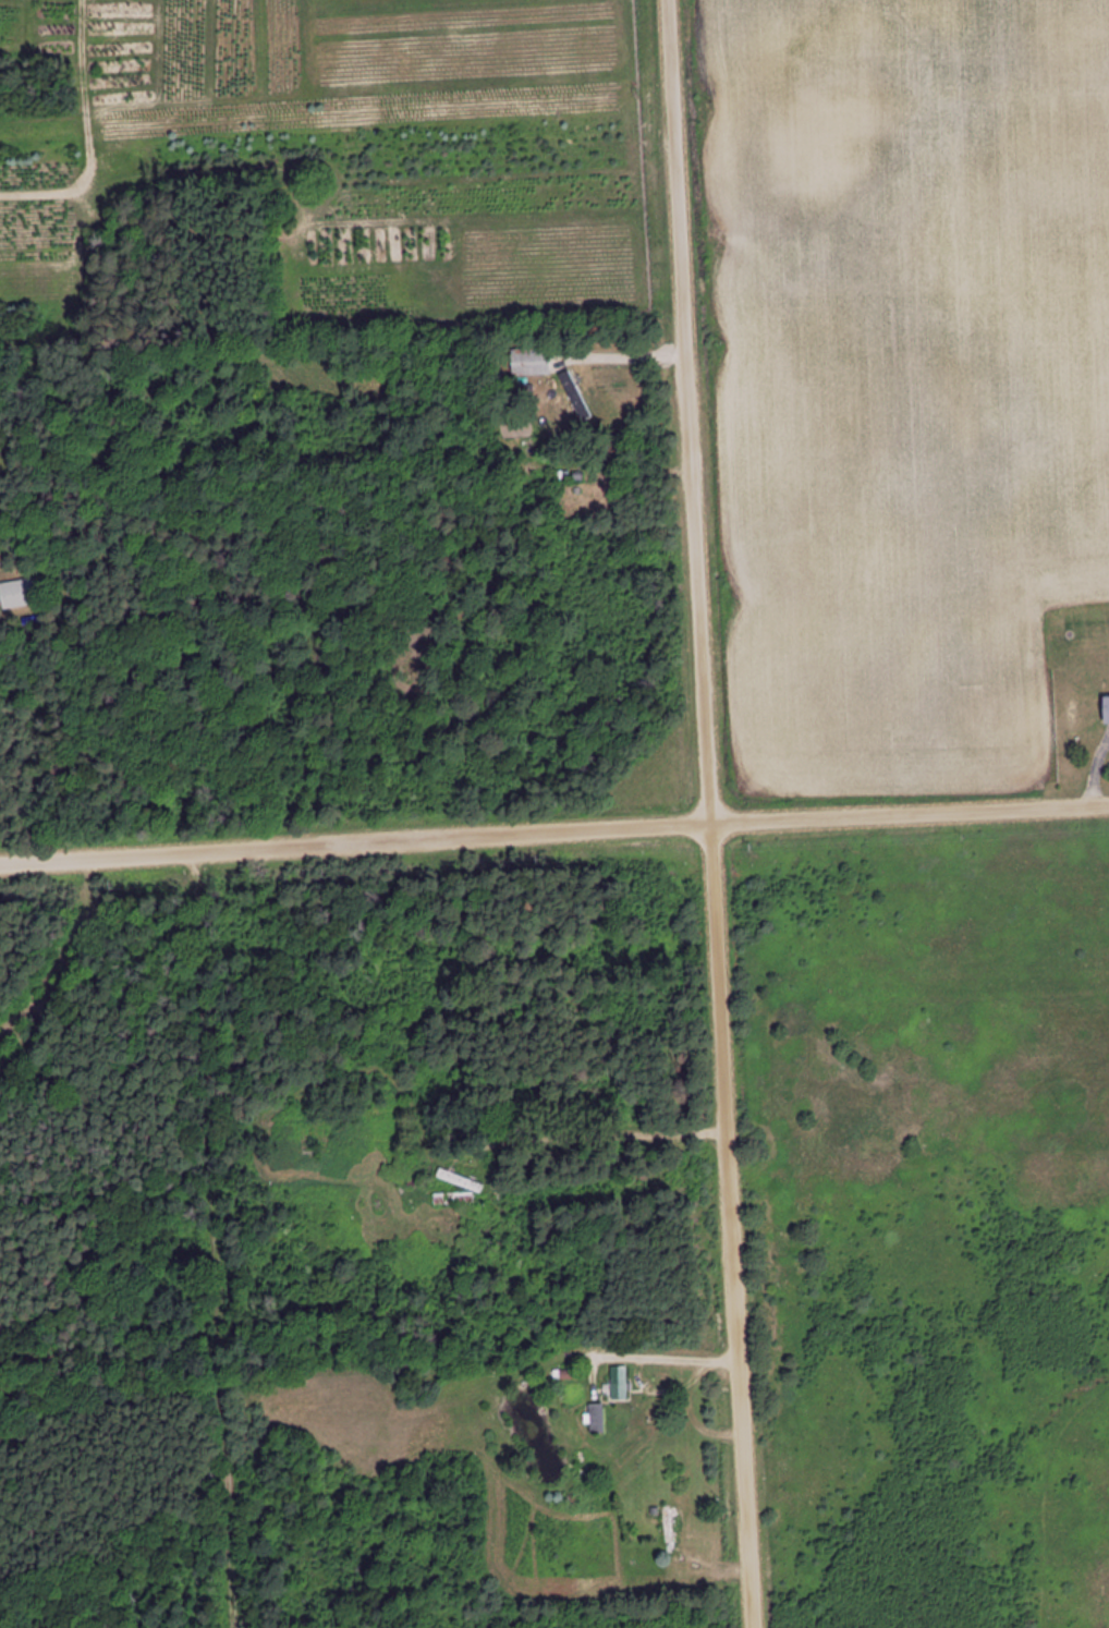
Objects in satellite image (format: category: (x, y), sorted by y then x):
building: (529, 362)
crop: (915, 379)
building: (575, 396)
building: (19, 594)
building: (1092, 712)
road: (703, 814)
road: (553, 830)
building: (619, 1383)
building: (596, 1418)
building: (583, 1465)
building: (667, 1524)

